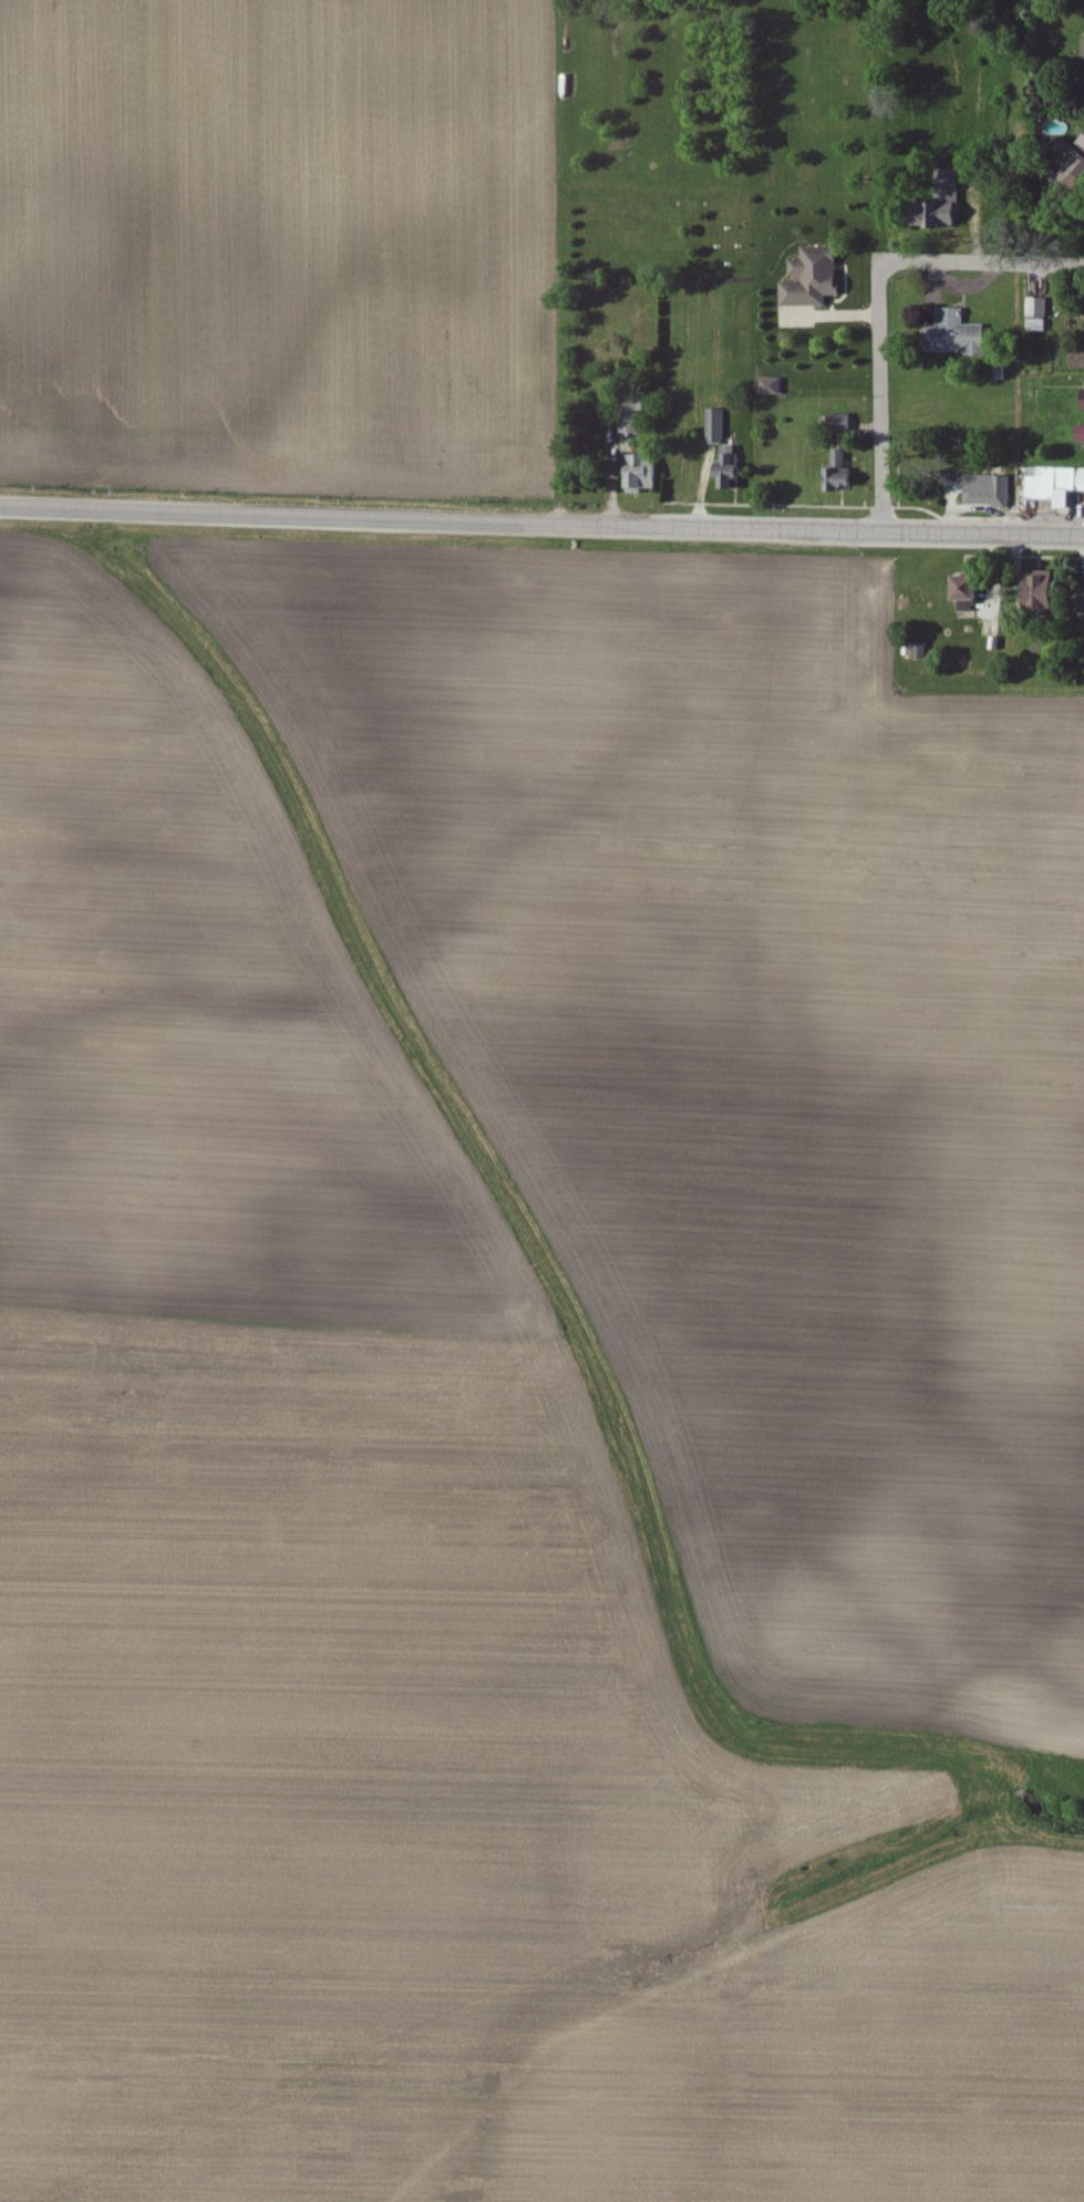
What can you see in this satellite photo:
building: (1083, 44)
building: (1082, 143)
building: (1073, 173)
building: (944, 203)
road: (981, 263)
building: (815, 278)
building: (1039, 314)
building: (958, 334)
road: (879, 399)
building: (634, 414)
building: (842, 423)
building: (717, 427)
building: (1081, 434)
building: (731, 468)
building: (643, 473)
building: (840, 473)
building: (1057, 485)
building: (990, 490)
road: (541, 525)
building: (1044, 589)
building: (970, 592)
building: (1081, 606)
building: (921, 651)

